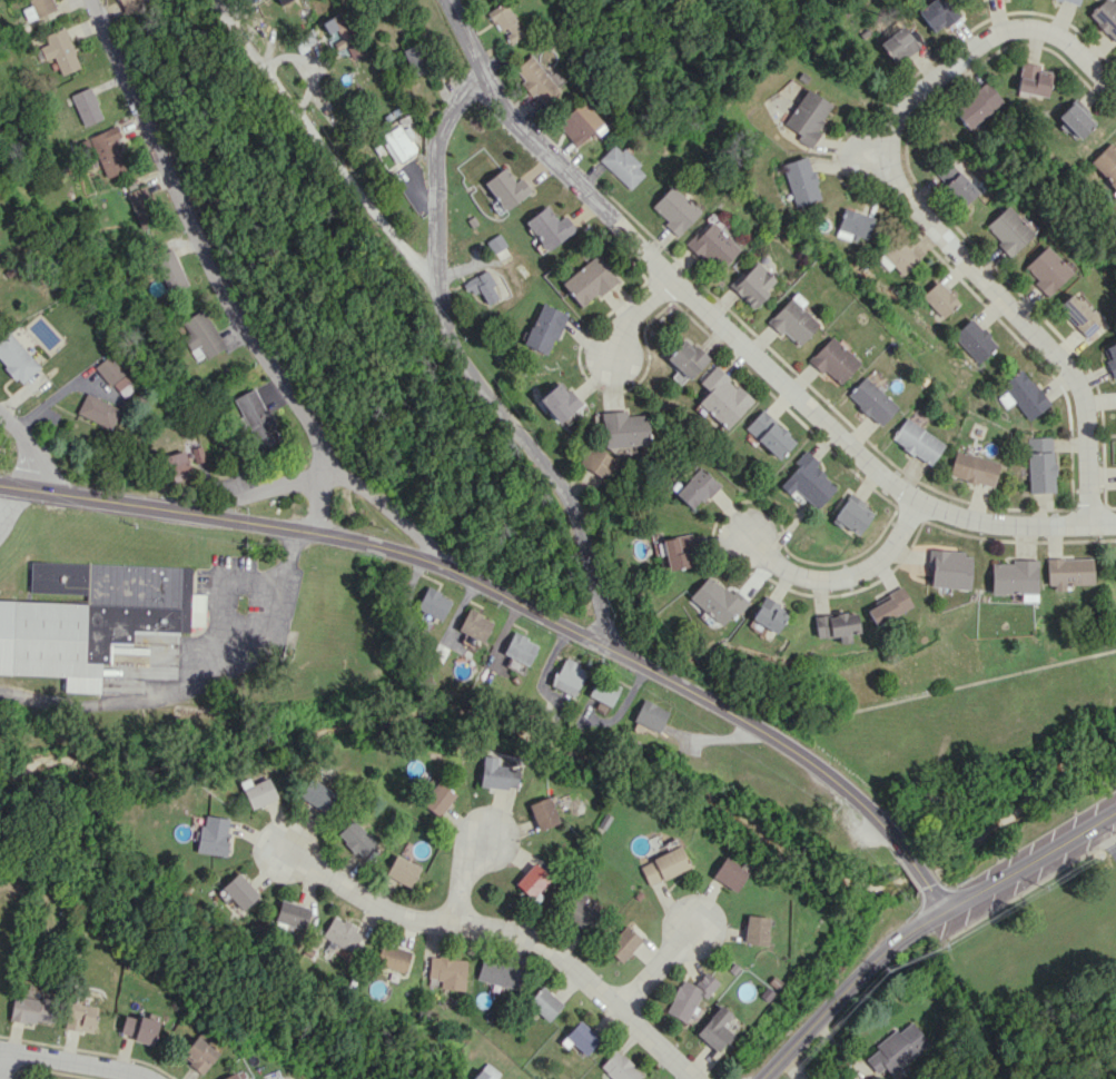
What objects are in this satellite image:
building: (279, 0)
building: (1071, 1)
building: (37, 8)
building: (936, 13)
building: (1106, 17)
building: (504, 21)
building: (343, 34)
building: (897, 44)
building: (59, 50)
building: (415, 59)
road: (483, 67)
building: (535, 79)
building: (1031, 79)
building: (975, 105)
building: (86, 106)
building: (806, 117)
building: (1074, 118)
building: (579, 122)
building: (399, 140)
building: (106, 150)
building: (1106, 164)
road: (438, 166)
building: (621, 166)
building: (799, 181)
building: (952, 181)
building: (505, 188)
building: (140, 206)
building: (674, 209)
road: (921, 211)
building: (852, 224)
building: (549, 227)
building: (1006, 230)
building: (495, 242)
building: (710, 244)
building: (898, 257)
building: (168, 270)
building: (1045, 270)
building: (587, 280)
building: (752, 283)
building: (482, 286)
building: (939, 298)
road: (236, 299)
road: (437, 303)
building: (1078, 314)
road: (638, 315)
building: (792, 319)
building: (544, 328)
building: (200, 336)
building: (974, 340)
building: (1109, 356)
building: (16, 358)
building: (684, 360)
building: (833, 360)
building: (107, 369)
road: (791, 387)
building: (1021, 394)
building: (721, 397)
building: (871, 400)
building: (557, 402)
road: (41, 404)
building: (97, 410)
building: (256, 418)
building: (622, 428)
building: (768, 434)
building: (917, 440)
road: (22, 452)
building: (596, 462)
building: (1039, 464)
building: (176, 465)
building: (972, 468)
building: (807, 481)
road: (315, 487)
building: (694, 488)
road: (9, 506)
building: (851, 514)
building: (676, 552)
road: (288, 554)
building: (1115, 568)
building: (948, 570)
road: (841, 572)
building: (1067, 572)
building: (1014, 578)
road: (218, 592)
building: (715, 600)
building: (433, 603)
road: (517, 603)
building: (886, 606)
building: (145, 614)
building: (768, 614)
building: (474, 624)
building: (834, 625)
building: (47, 642)
building: (520, 647)
building: (567, 676)
road: (169, 690)
building: (603, 690)
building: (649, 715)
building: (496, 773)
building: (257, 791)
building: (316, 794)
building: (436, 799)
building: (542, 812)
building: (213, 834)
building: (355, 838)
road: (1100, 845)
building: (662, 865)
building: (402, 870)
building: (728, 873)
road: (463, 874)
building: (531, 880)
building: (239, 890)
building: (576, 911)
building: (292, 914)
road: (927, 925)
building: (754, 929)
road: (505, 931)
building: (342, 933)
building: (622, 943)
building: (392, 958)
road: (658, 968)
building: (447, 971)
building: (498, 973)
building: (689, 996)
building: (543, 1003)
building: (31, 1009)
building: (79, 1016)
building: (137, 1028)
building: (714, 1029)
building: (581, 1038)
building: (896, 1048)
building: (197, 1053)
road: (55, 1067)
building: (619, 1067)
road: (4, 1068)
building: (485, 1071)
building: (228, 1076)

